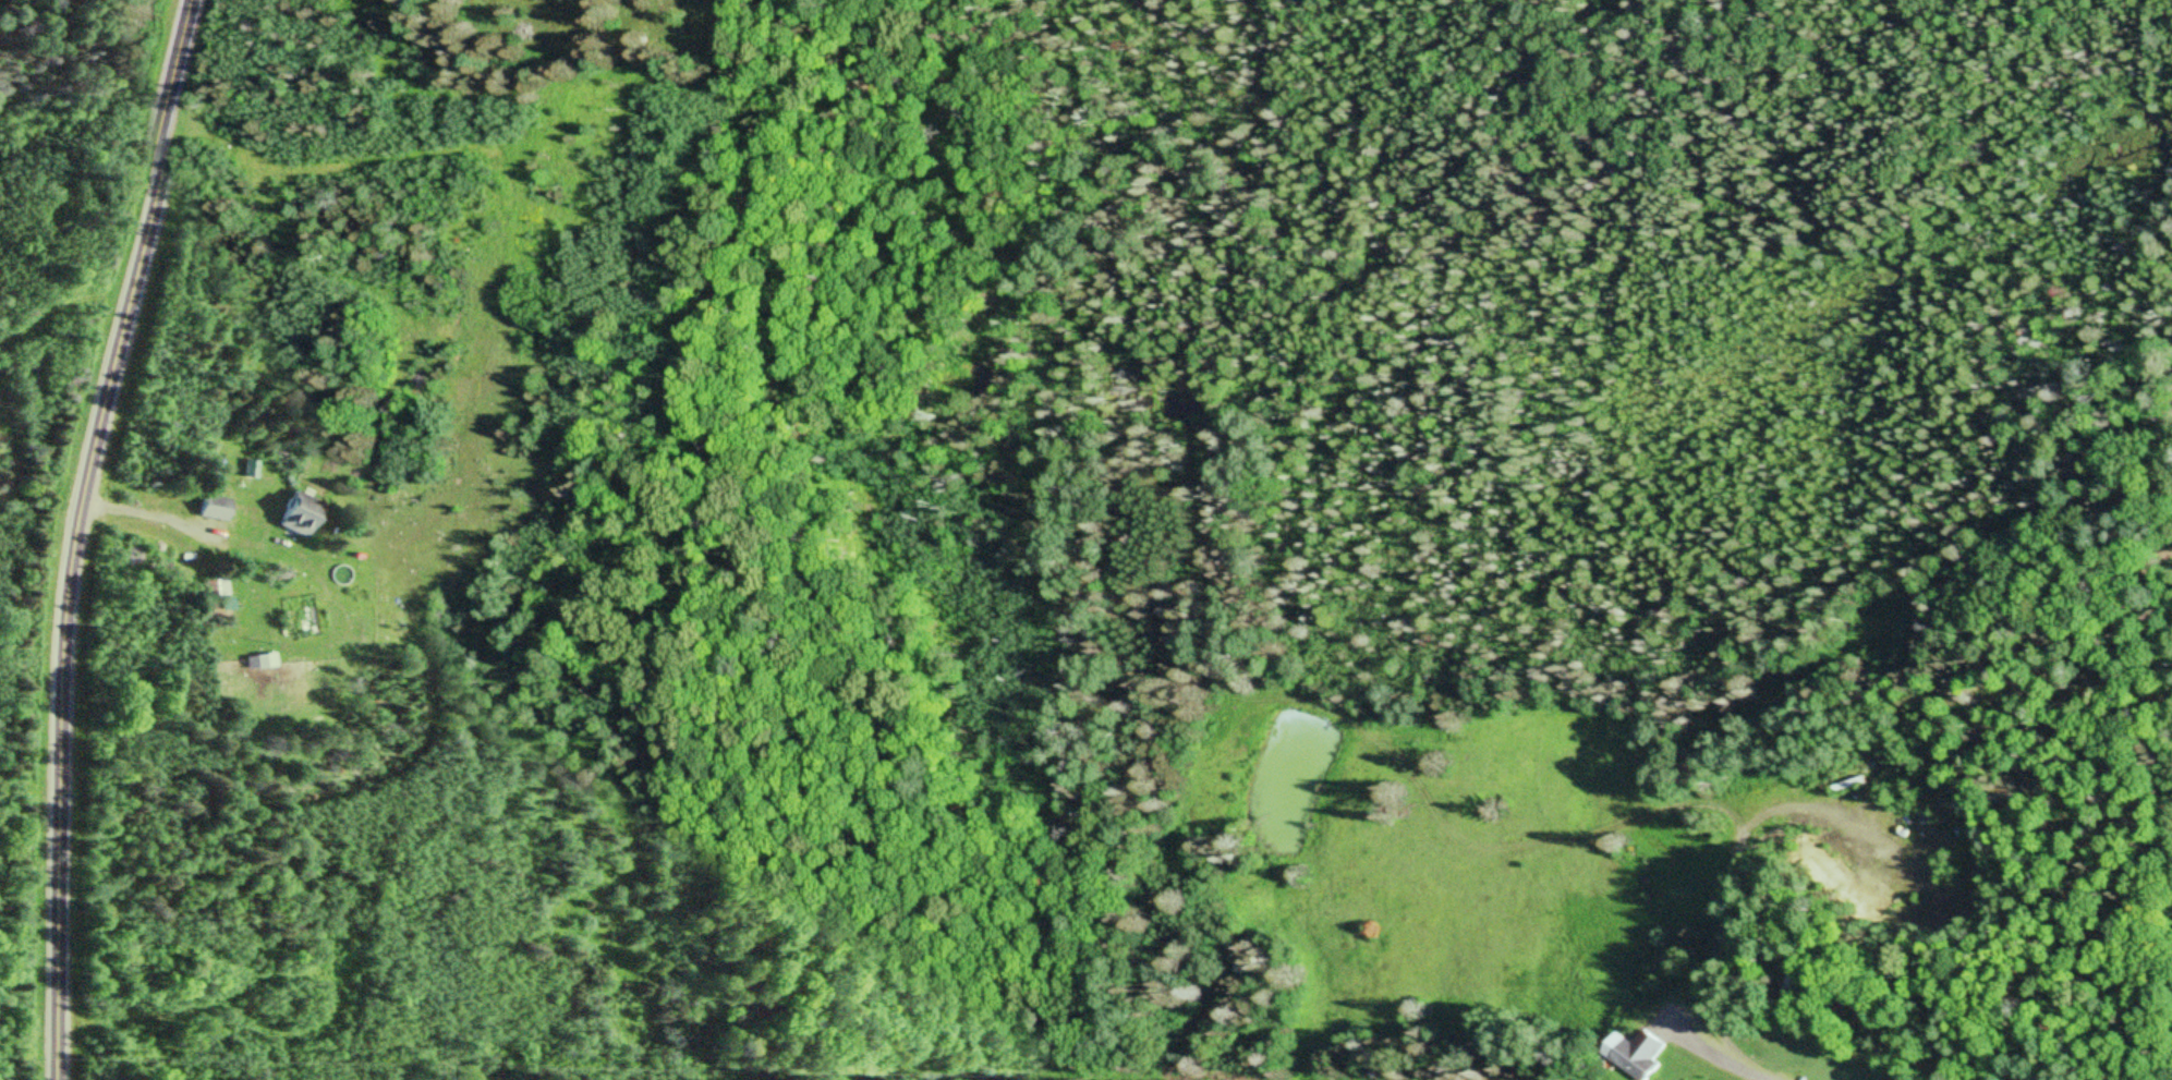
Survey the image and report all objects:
building: (215, 507)
building: (300, 512)
road: (78, 534)
building: (215, 587)
building: (262, 659)
building: (1647, 1053)
road: (1719, 1053)

